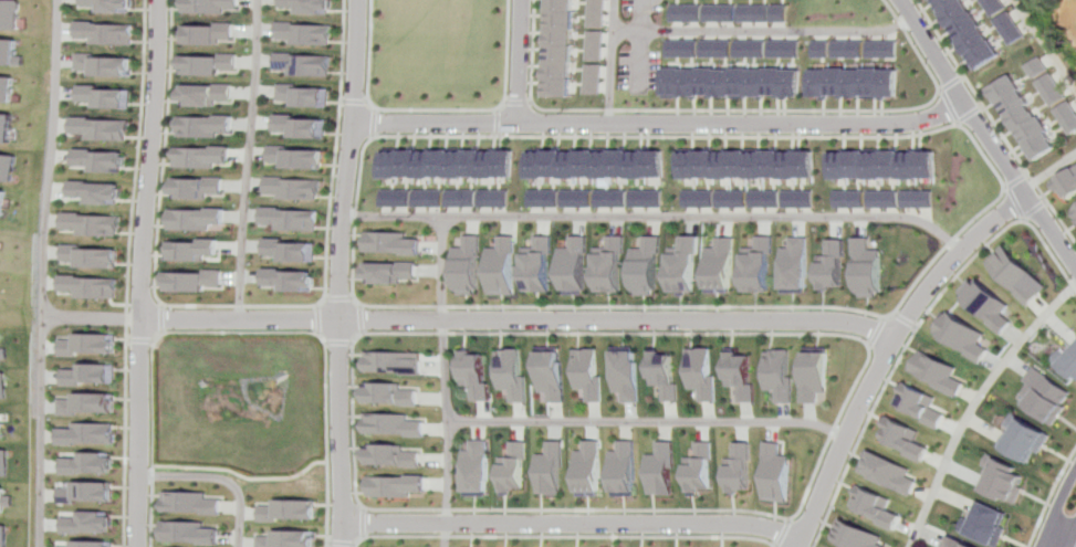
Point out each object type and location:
parking lot: (645, 4)
building: (105, 6)
building: (205, 6)
building: (303, 6)
building: (995, 6)
building: (690, 13)
building: (723, 13)
building: (756, 13)
building: (783, 13)
building: (9, 14)
building: (1011, 28)
road: (764, 31)
building: (103, 32)
building: (968, 32)
building: (202, 33)
building: (299, 33)
road: (645, 44)
road: (1046, 44)
building: (597, 48)
building: (689, 49)
building: (721, 49)
building: (755, 49)
building: (788, 49)
building: (885, 49)
building: (558, 50)
building: (825, 50)
building: (852, 50)
park: (433, 52)
building: (9, 53)
road: (363, 56)
road: (518, 60)
road: (616, 61)
building: (203, 63)
building: (297, 64)
building: (102, 65)
building: (1037, 67)
parking lot: (645, 69)
building: (741, 83)
building: (860, 83)
road: (952, 83)
building: (7, 88)
building: (1053, 90)
building: (202, 94)
building: (300, 95)
building: (102, 96)
road: (348, 101)
road: (518, 102)
road: (951, 106)
road: (539, 107)
road: (490, 109)
road: (853, 112)
road: (973, 114)
building: (1068, 116)
building: (1025, 119)
road: (995, 120)
road: (660, 122)
road: (370, 123)
road: (498, 123)
building: (201, 126)
building: (299, 126)
building: (7, 128)
building: (100, 128)
road: (986, 133)
road: (585, 137)
road: (138, 146)
road: (165, 146)
road: (334, 147)
road: (986, 154)
building: (200, 157)
building: (295, 157)
road: (247, 158)
building: (101, 160)
building: (600, 162)
building: (449, 164)
building: (753, 165)
building: (885, 165)
building: (9, 167)
road: (1049, 175)
road: (1020, 180)
building: (1067, 185)
building: (198, 187)
building: (294, 188)
building: (98, 191)
building: (398, 198)
building: (432, 198)
building: (499, 198)
building: (466, 199)
building: (551, 199)
building: (583, 199)
building: (618, 199)
building: (651, 199)
building: (703, 199)
building: (738, 199)
building: (852, 199)
building: (886, 199)
building: (919, 199)
building: (770, 200)
building: (804, 200)
building: (4, 202)
road: (1016, 202)
road: (1035, 208)
building: (1074, 210)
road: (659, 217)
building: (199, 219)
building: (294, 219)
road: (1024, 219)
building: (97, 223)
road: (965, 231)
building: (397, 242)
building: (1, 249)
building: (198, 250)
building: (296, 250)
building: (96, 256)
building: (579, 264)
building: (616, 264)
building: (724, 264)
building: (761, 264)
building: (797, 264)
building: (472, 265)
building: (543, 265)
building: (689, 265)
building: (834, 265)
building: (508, 266)
building: (652, 266)
building: (868, 266)
building: (395, 272)
road: (50, 273)
road: (148, 273)
road: (346, 273)
building: (1014, 274)
building: (199, 280)
building: (294, 280)
building: (96, 286)
building: (3, 295)
road: (343, 298)
building: (988, 305)
road: (243, 306)
road: (649, 307)
road: (366, 318)
road: (474, 318)
road: (167, 319)
road: (322, 319)
road: (907, 320)
road: (918, 328)
road: (878, 332)
road: (243, 333)
building: (964, 336)
road: (146, 339)
road: (342, 341)
building: (94, 344)
building: (4, 350)
road: (888, 353)
building: (1068, 358)
building: (395, 362)
building: (629, 372)
building: (707, 372)
building: (941, 372)
building: (92, 374)
building: (474, 374)
building: (551, 374)
building: (589, 374)
building: (512, 375)
building: (668, 375)
building: (746, 375)
building: (786, 375)
building: (821, 375)
road: (441, 381)
building: (6, 386)
building: (389, 393)
building: (1046, 396)
building: (93, 403)
building: (924, 404)
road: (978, 408)
road: (129, 419)
road: (646, 422)
building: (2, 424)
building: (390, 424)
building: (92, 434)
building: (909, 438)
building: (1026, 439)
building: (389, 455)
building: (6, 463)
building: (93, 463)
building: (508, 467)
building: (586, 467)
building: (661, 467)
road: (819, 467)
building: (470, 469)
building: (546, 469)
building: (623, 469)
building: (699, 469)
building: (740, 469)
building: (777, 472)
building: (890, 472)
road: (242, 476)
road: (220, 478)
building: (1002, 480)
building: (391, 485)
building: (91, 492)
road: (1051, 498)
building: (6, 501)
building: (192, 502)
building: (877, 506)
road: (1055, 507)
building: (286, 511)
road: (359, 522)
building: (91, 523)
road: (571, 523)
building: (984, 524)
building: (191, 532)
building: (856, 535)
building: (4, 536)
road: (558, 536)
road: (1070, 536)
building: (288, 539)
building: (954, 541)
road: (1051, 543)
building: (94, 544)
road: (338, 544)

